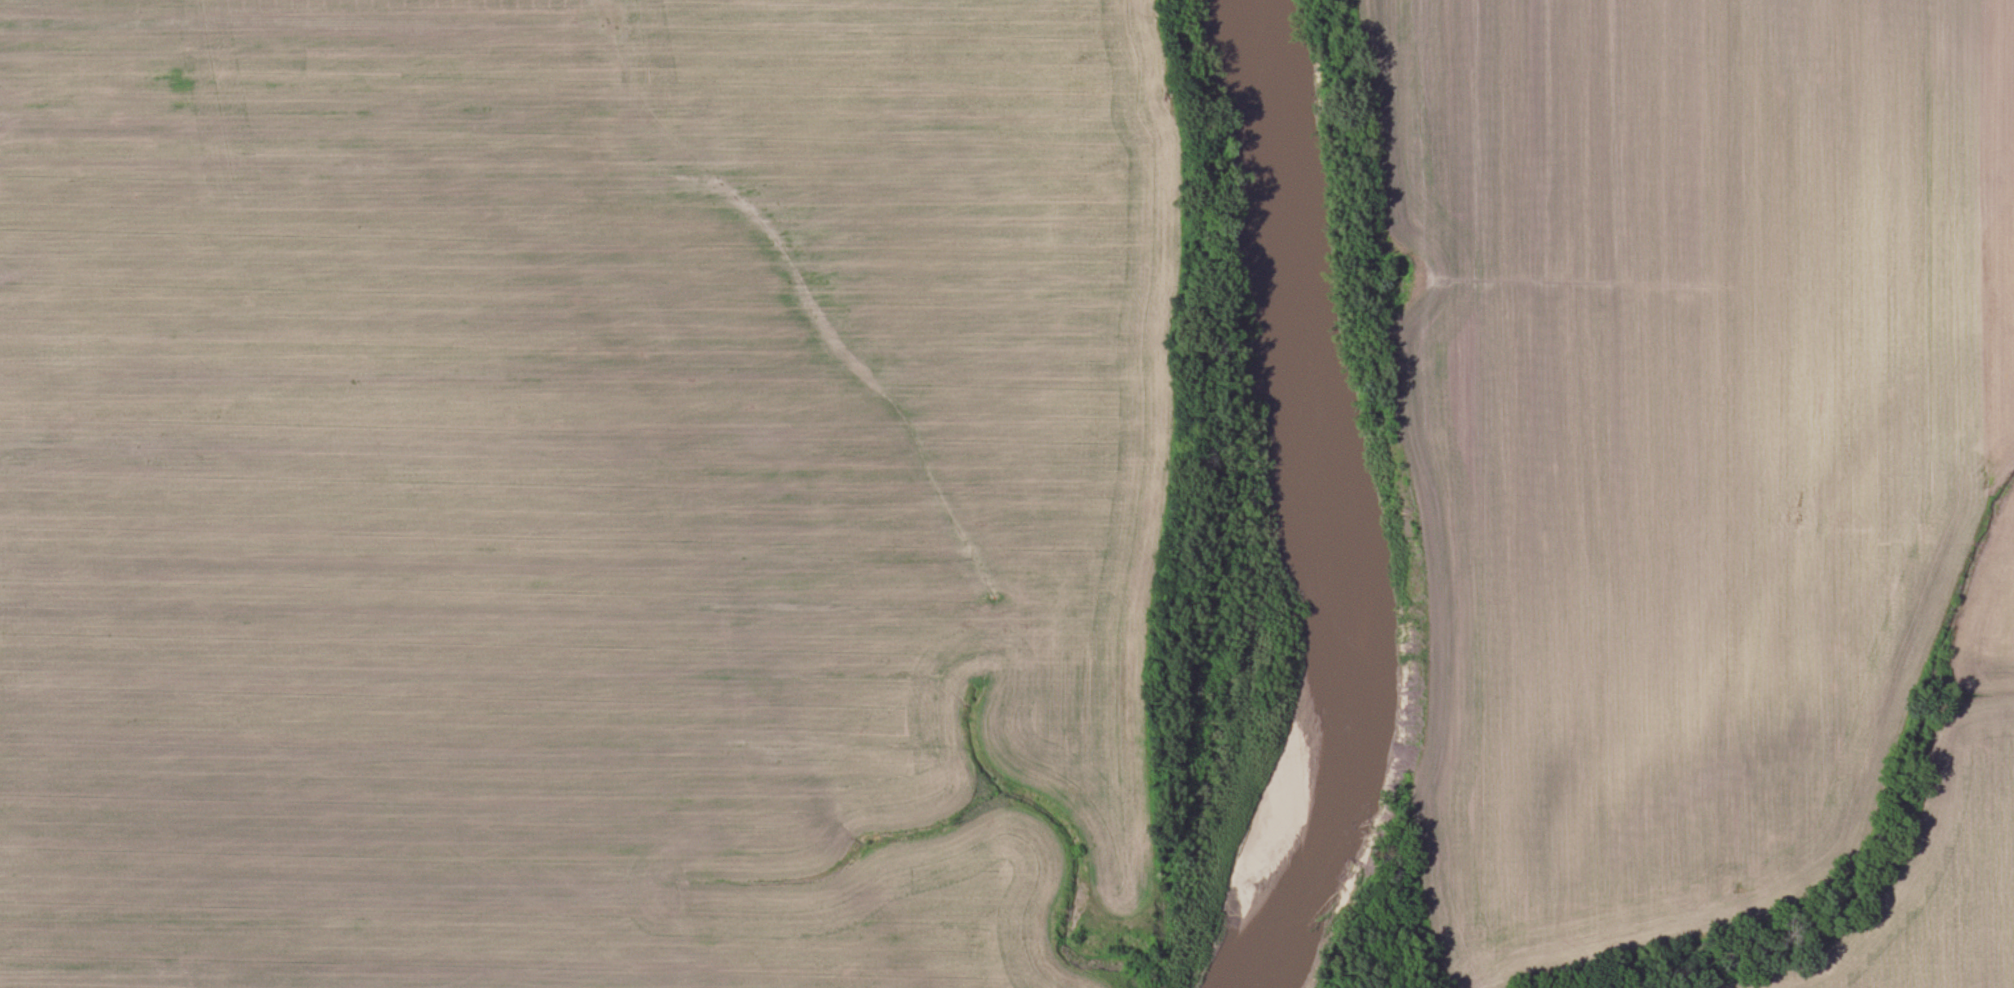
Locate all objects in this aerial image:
river: (1335, 501)

